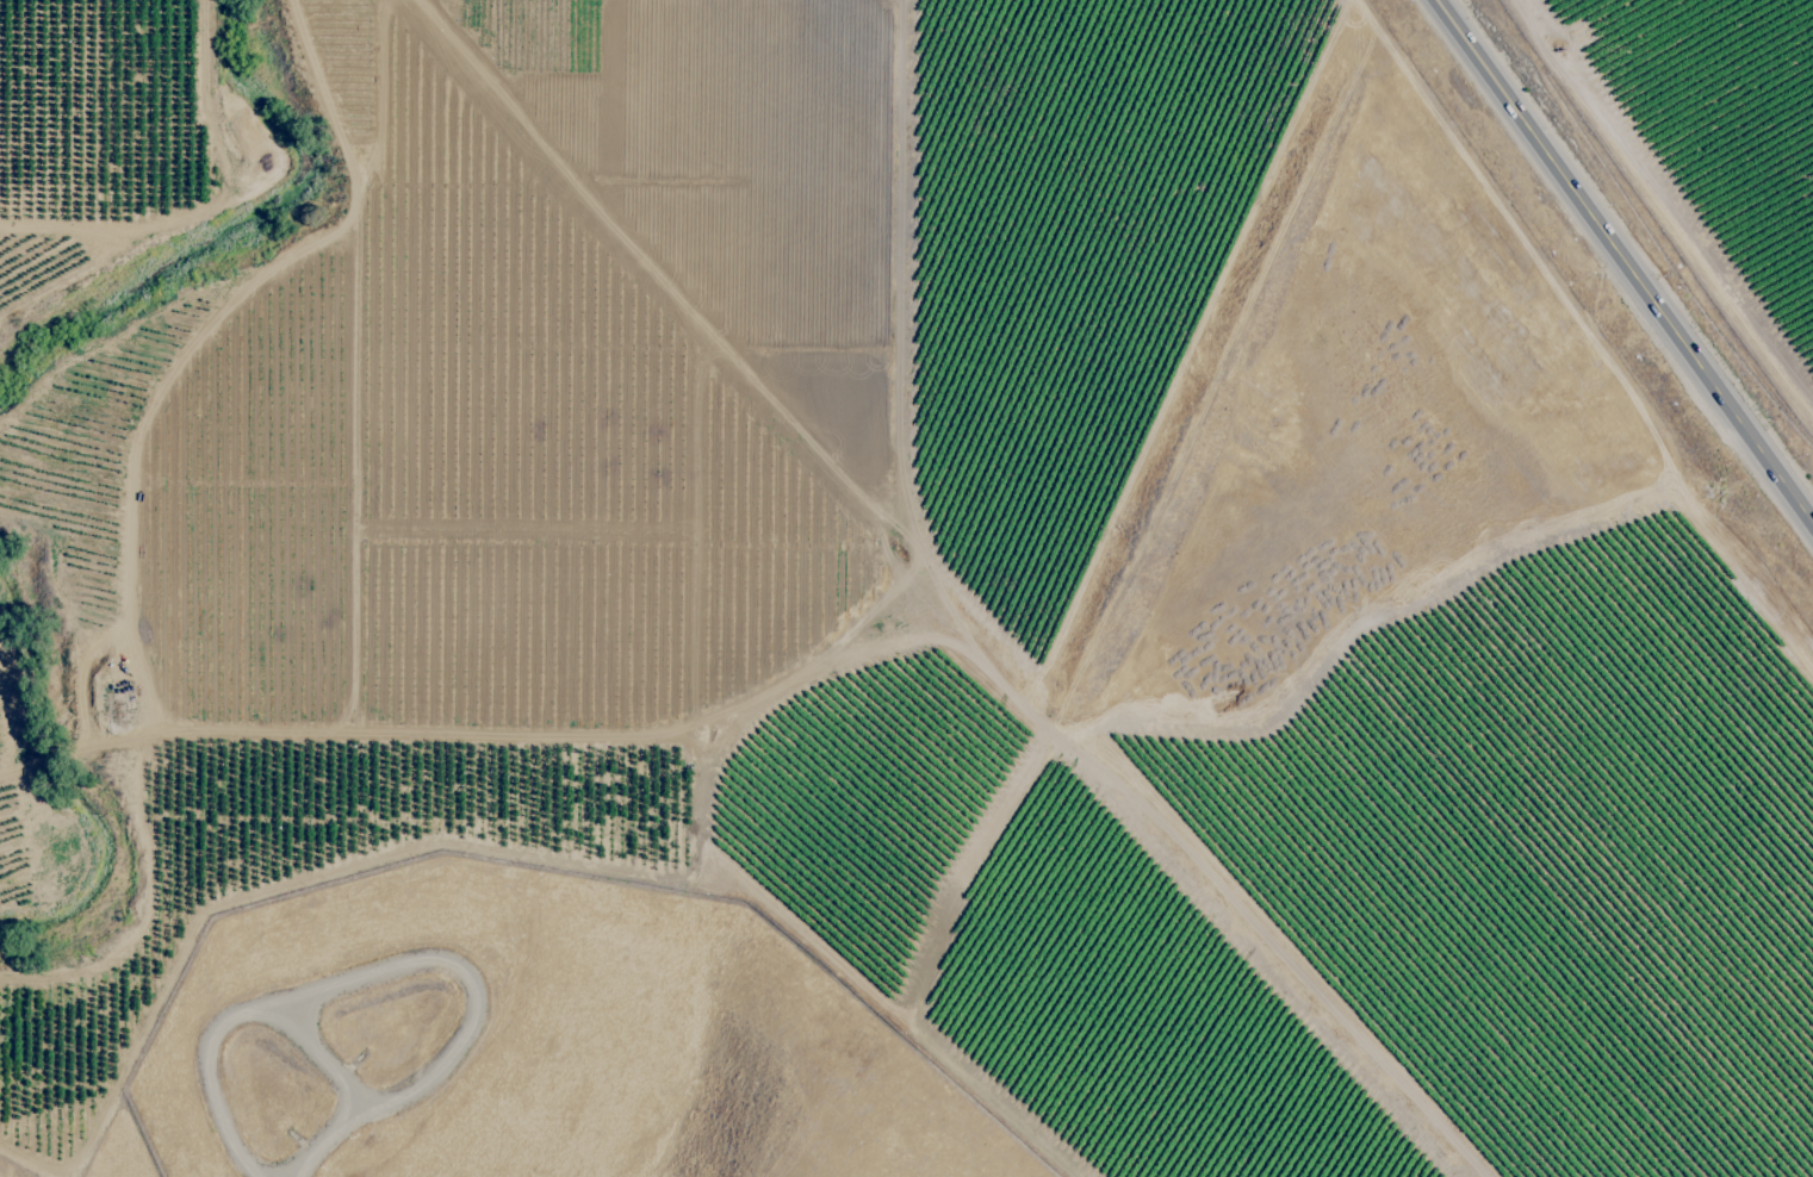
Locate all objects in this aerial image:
road: (1623, 264)
crop: (949, 538)

